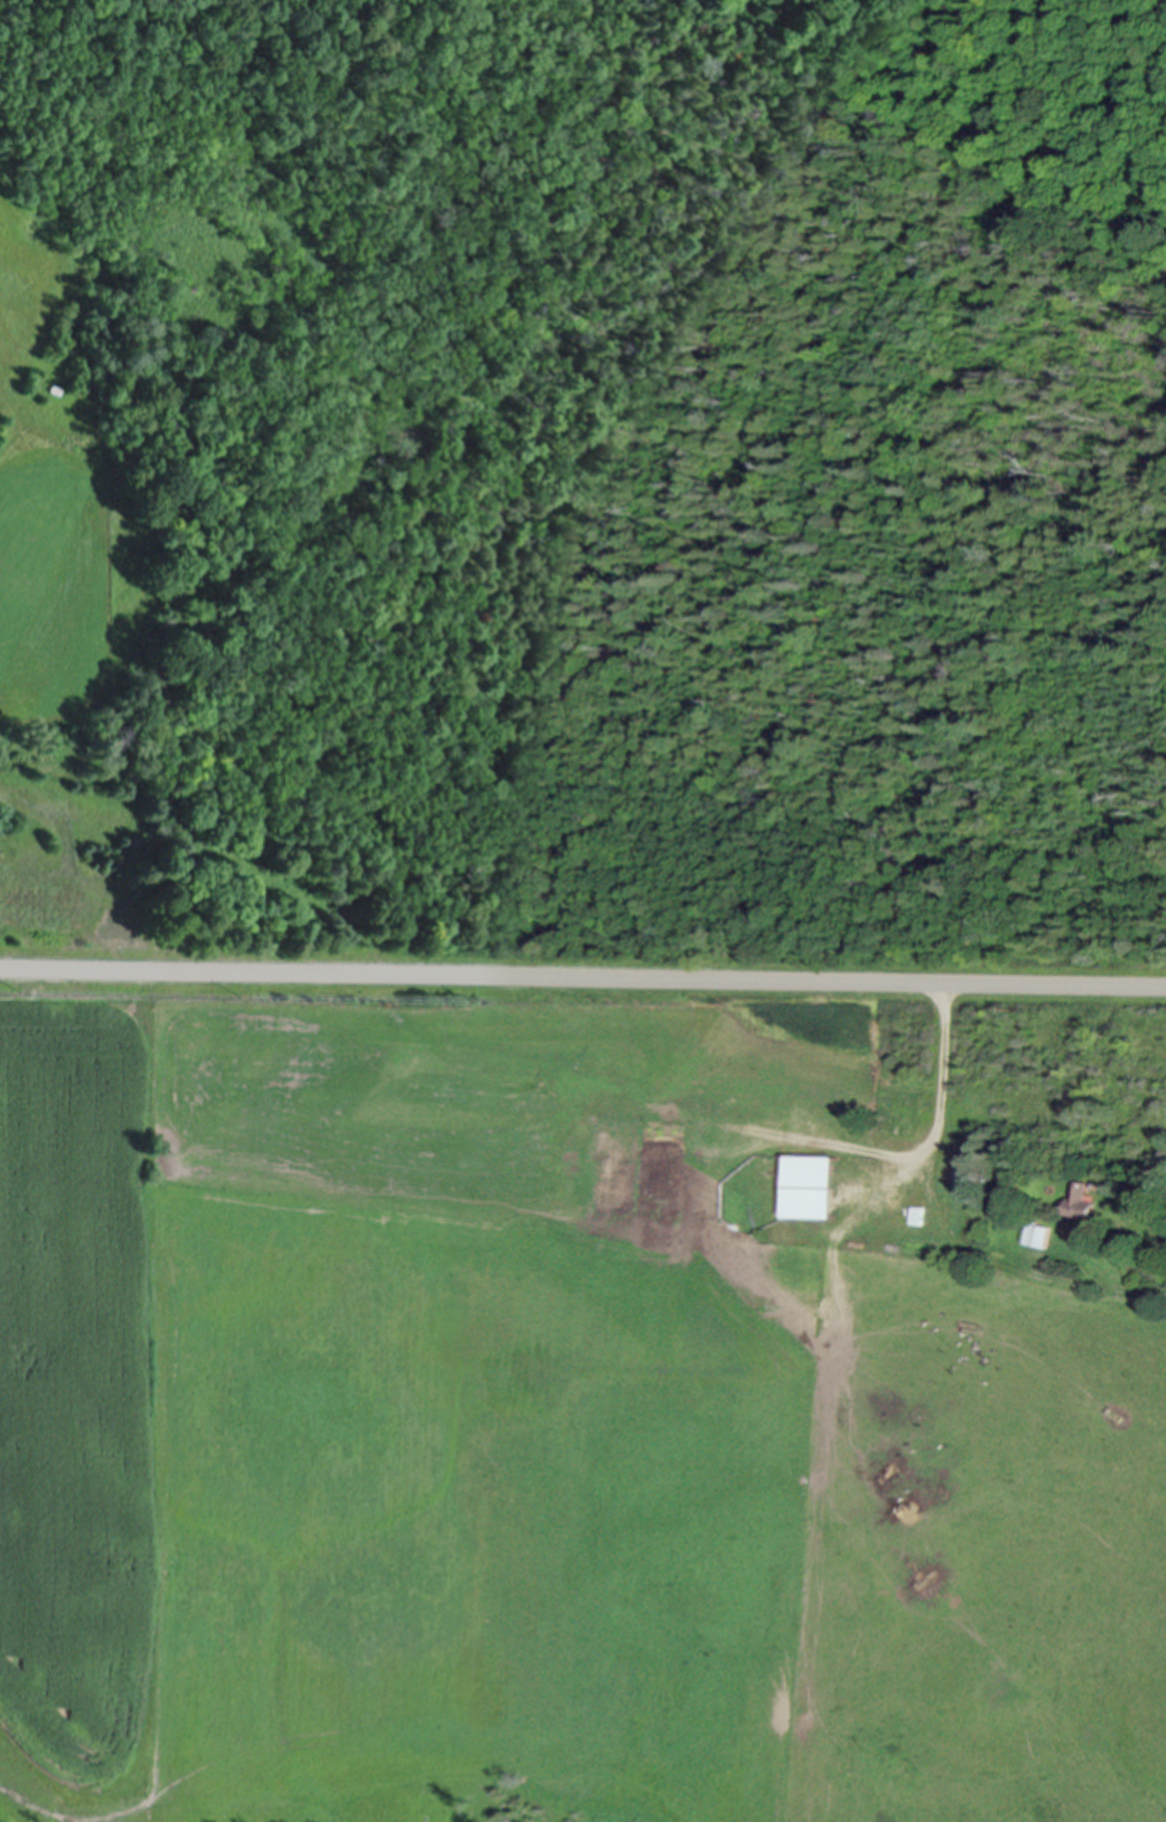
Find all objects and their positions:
road: (582, 972)
building: (1086, 1196)
building: (899, 1200)
building: (1042, 1230)

